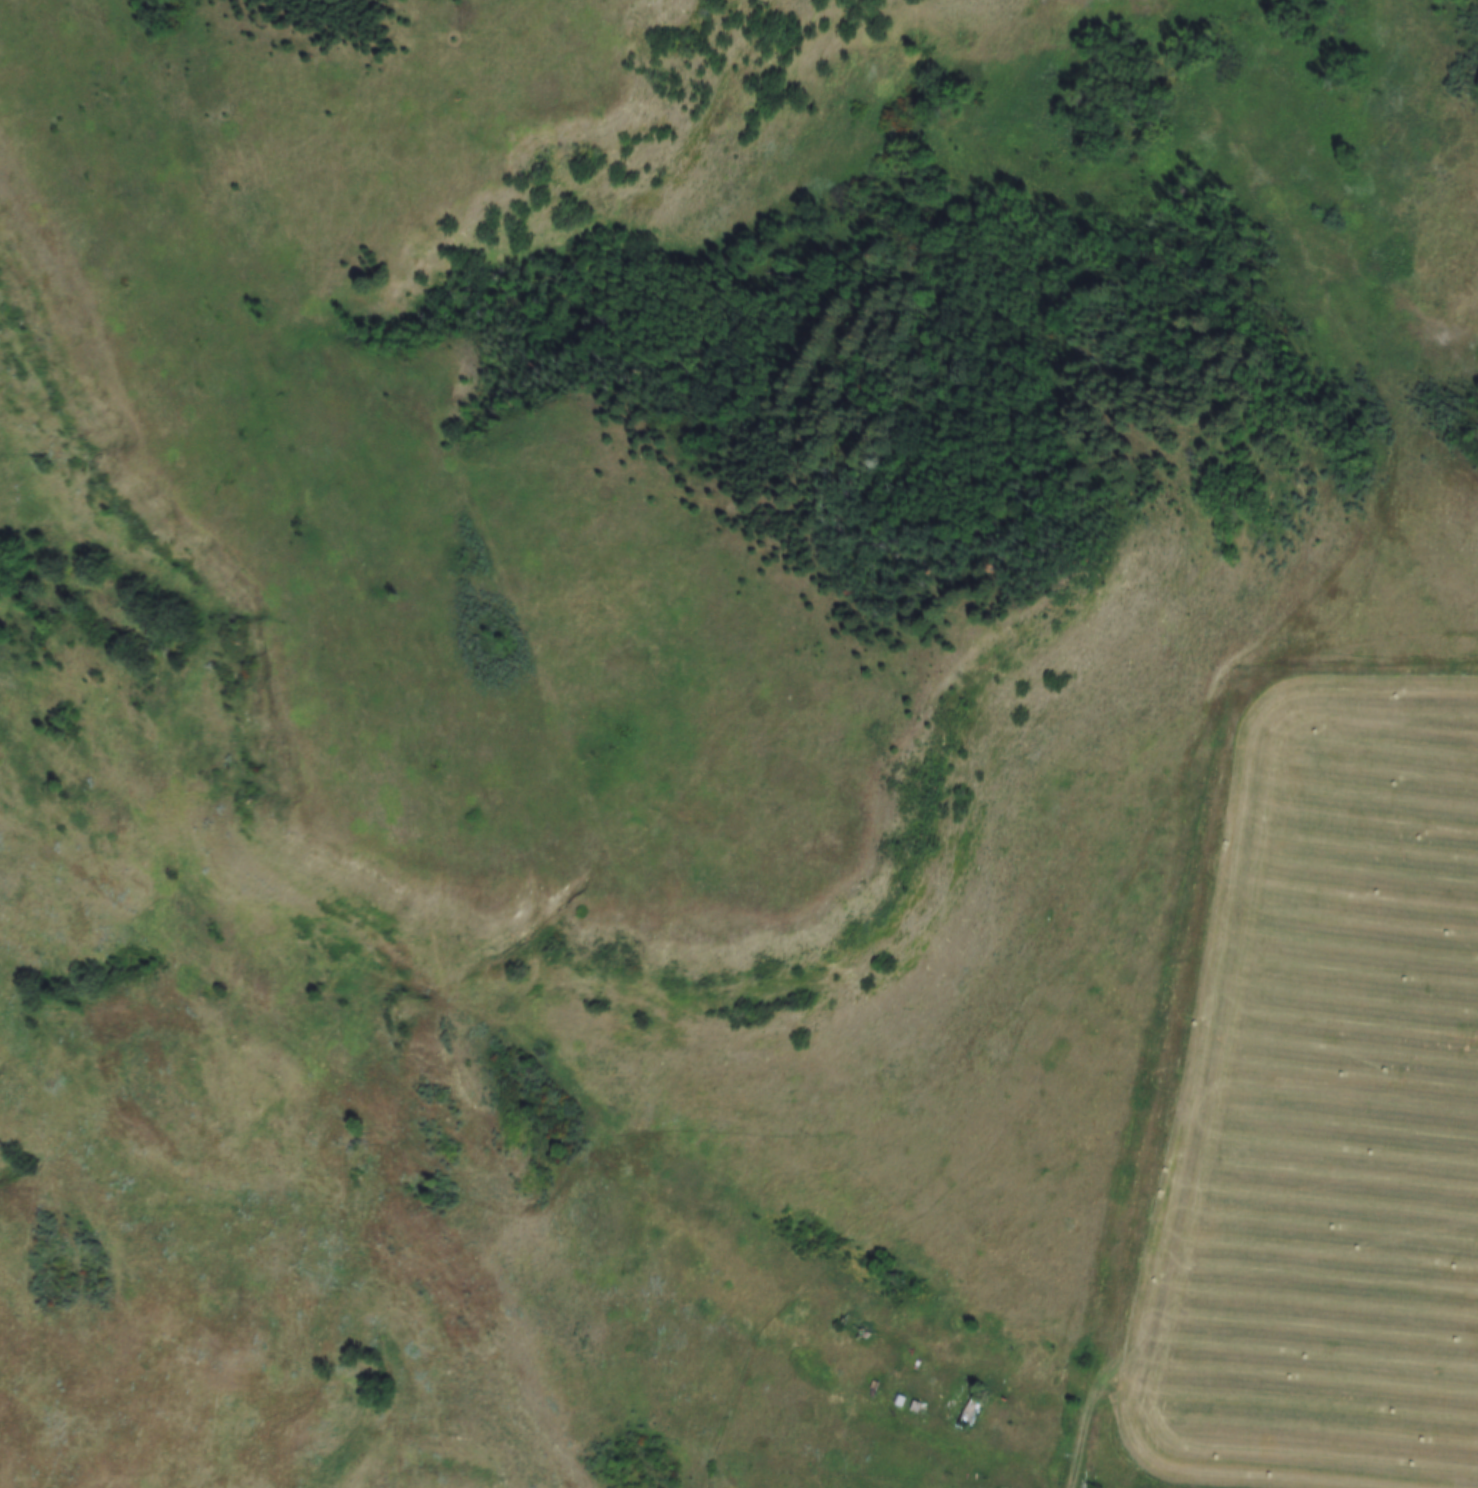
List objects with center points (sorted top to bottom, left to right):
road: (1079, 1482)

